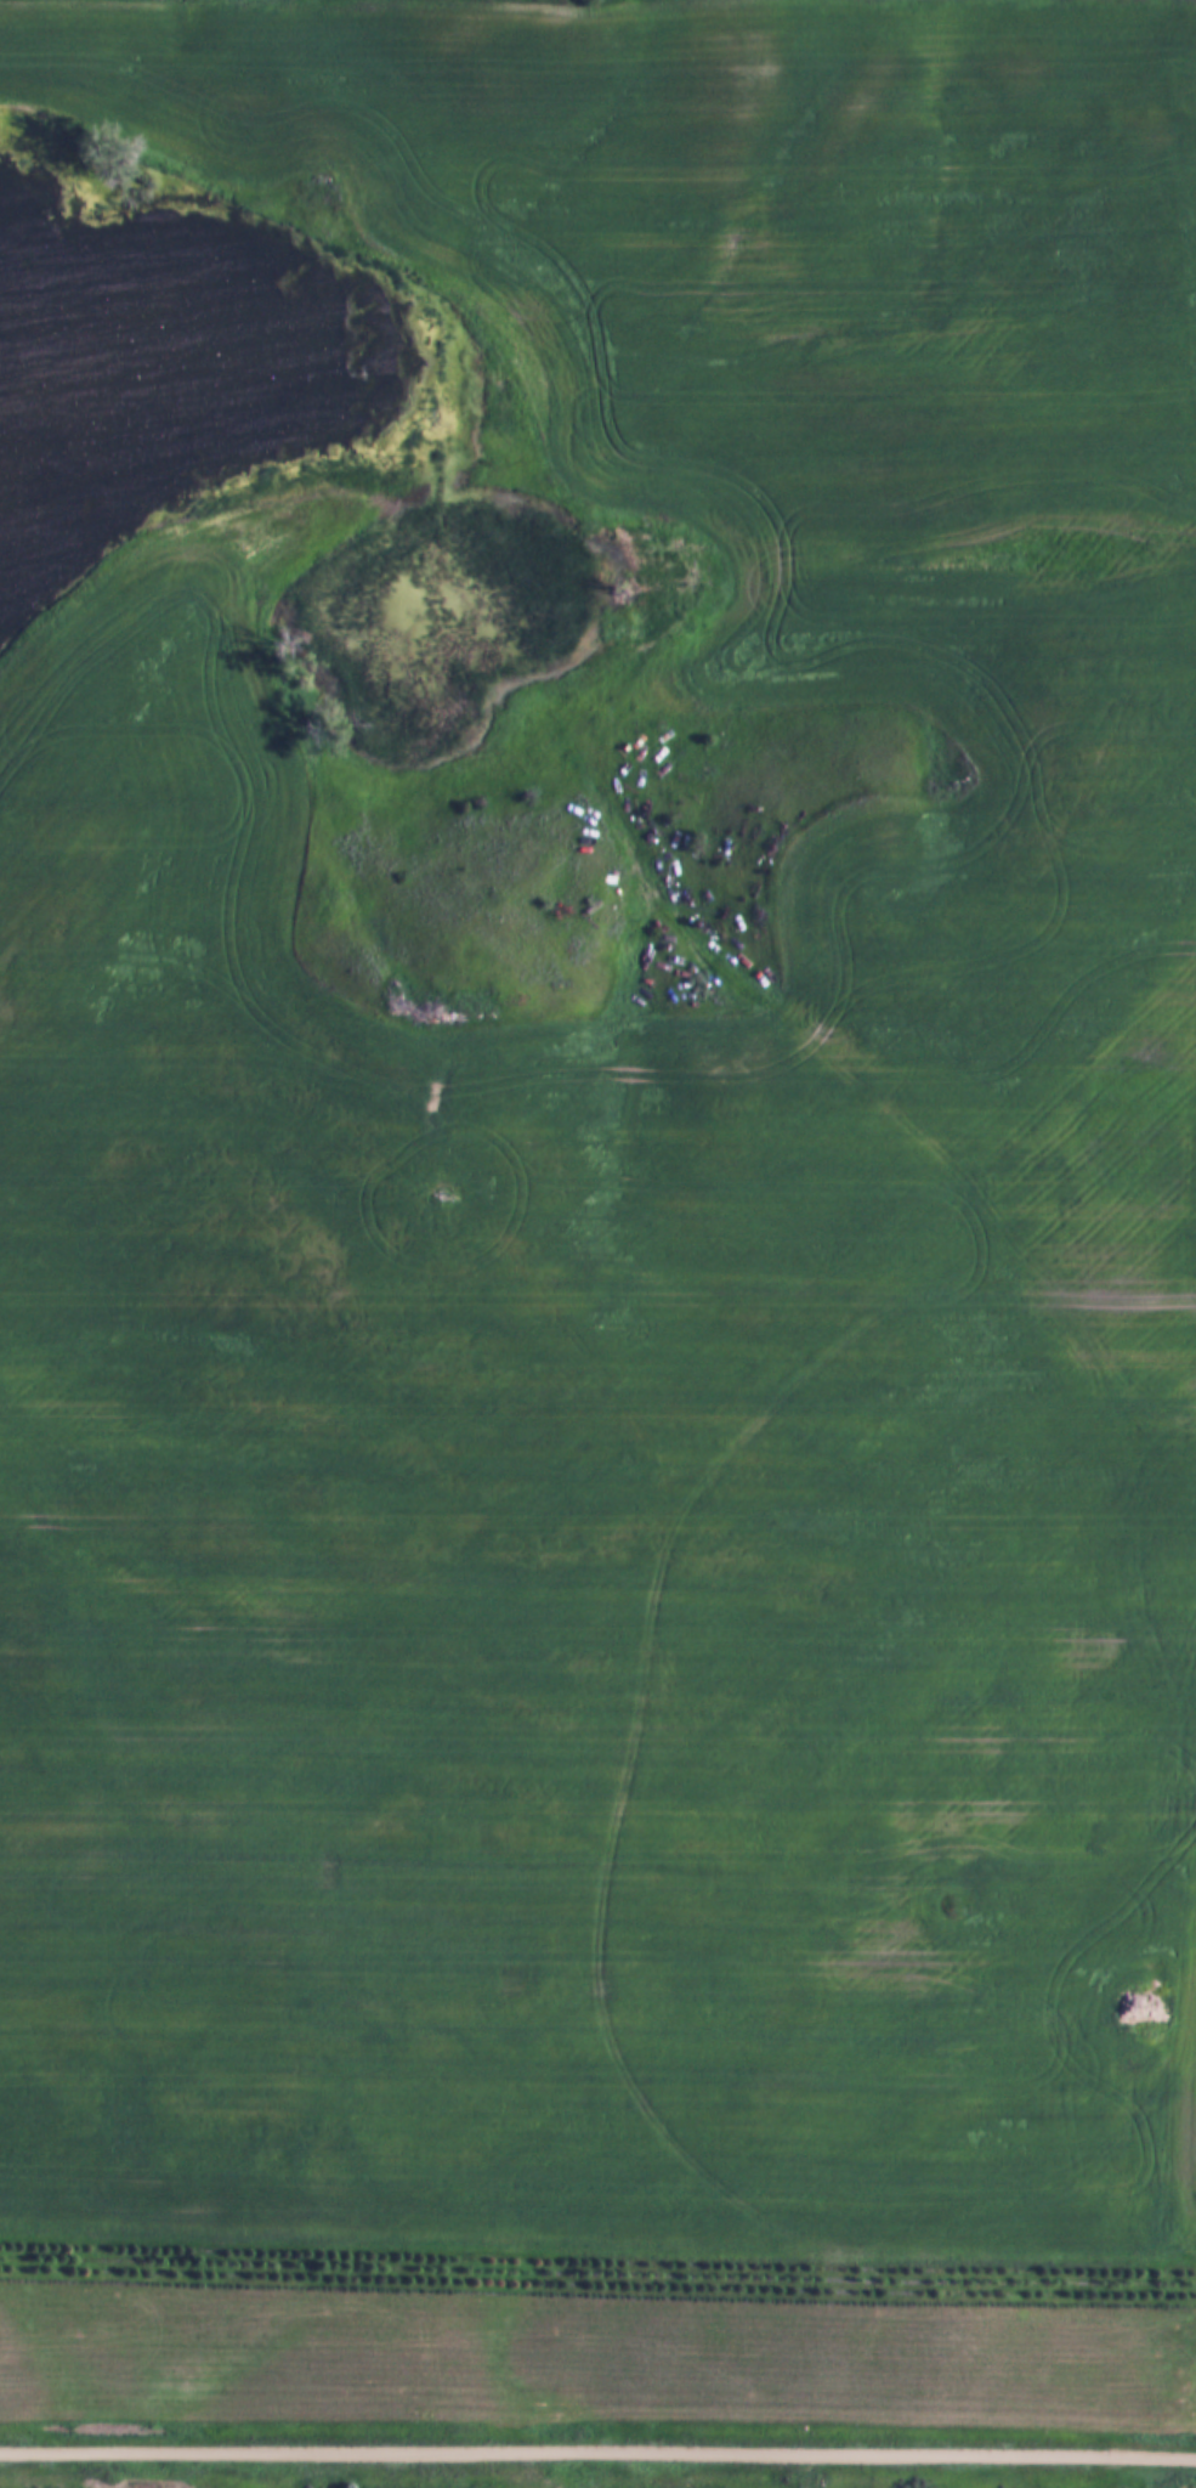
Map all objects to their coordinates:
road: (597, 2454)
road: (806, 2473)

